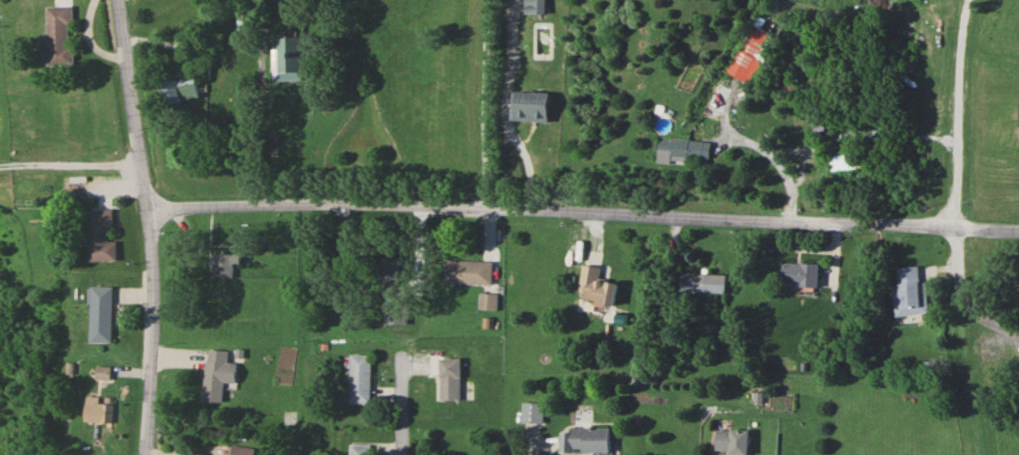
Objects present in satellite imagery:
building: (534, 6)
building: (58, 35)
building: (750, 53)
building: (289, 55)
building: (181, 90)
road: (484, 104)
building: (531, 106)
building: (712, 106)
road: (507, 110)
road: (271, 141)
road: (955, 147)
building: (681, 149)
building: (841, 161)
road: (71, 163)
road: (584, 214)
road: (151, 226)
building: (101, 236)
building: (224, 264)
building: (388, 271)
building: (467, 272)
building: (799, 275)
building: (702, 282)
building: (593, 288)
building: (911, 293)
building: (486, 301)
building: (397, 312)
building: (101, 314)
road: (985, 319)
building: (103, 373)
building: (218, 375)
building: (361, 378)
building: (450, 379)
road: (400, 406)
building: (98, 410)
building: (583, 440)
building: (732, 441)
building: (361, 449)
building: (240, 450)

